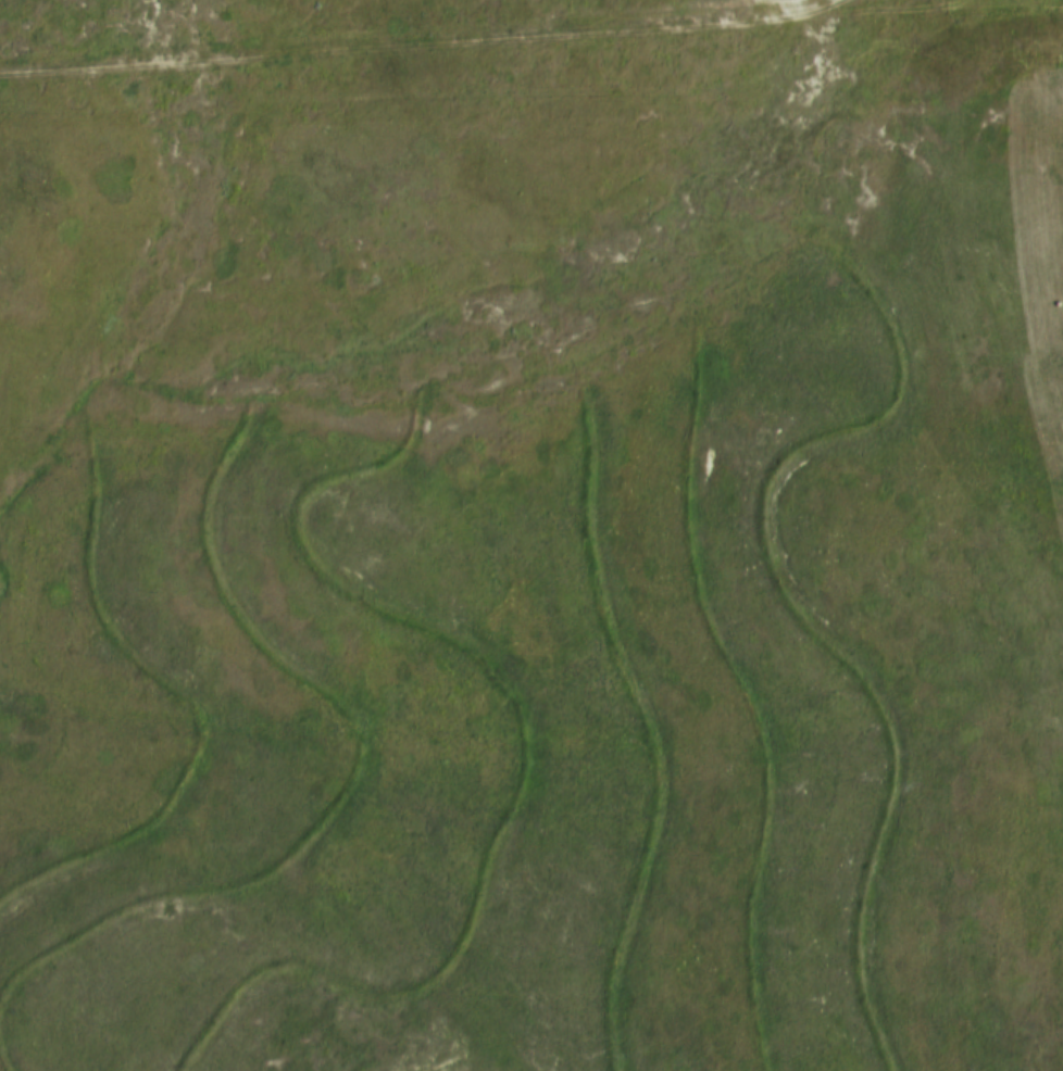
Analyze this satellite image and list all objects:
road: (415, 41)

